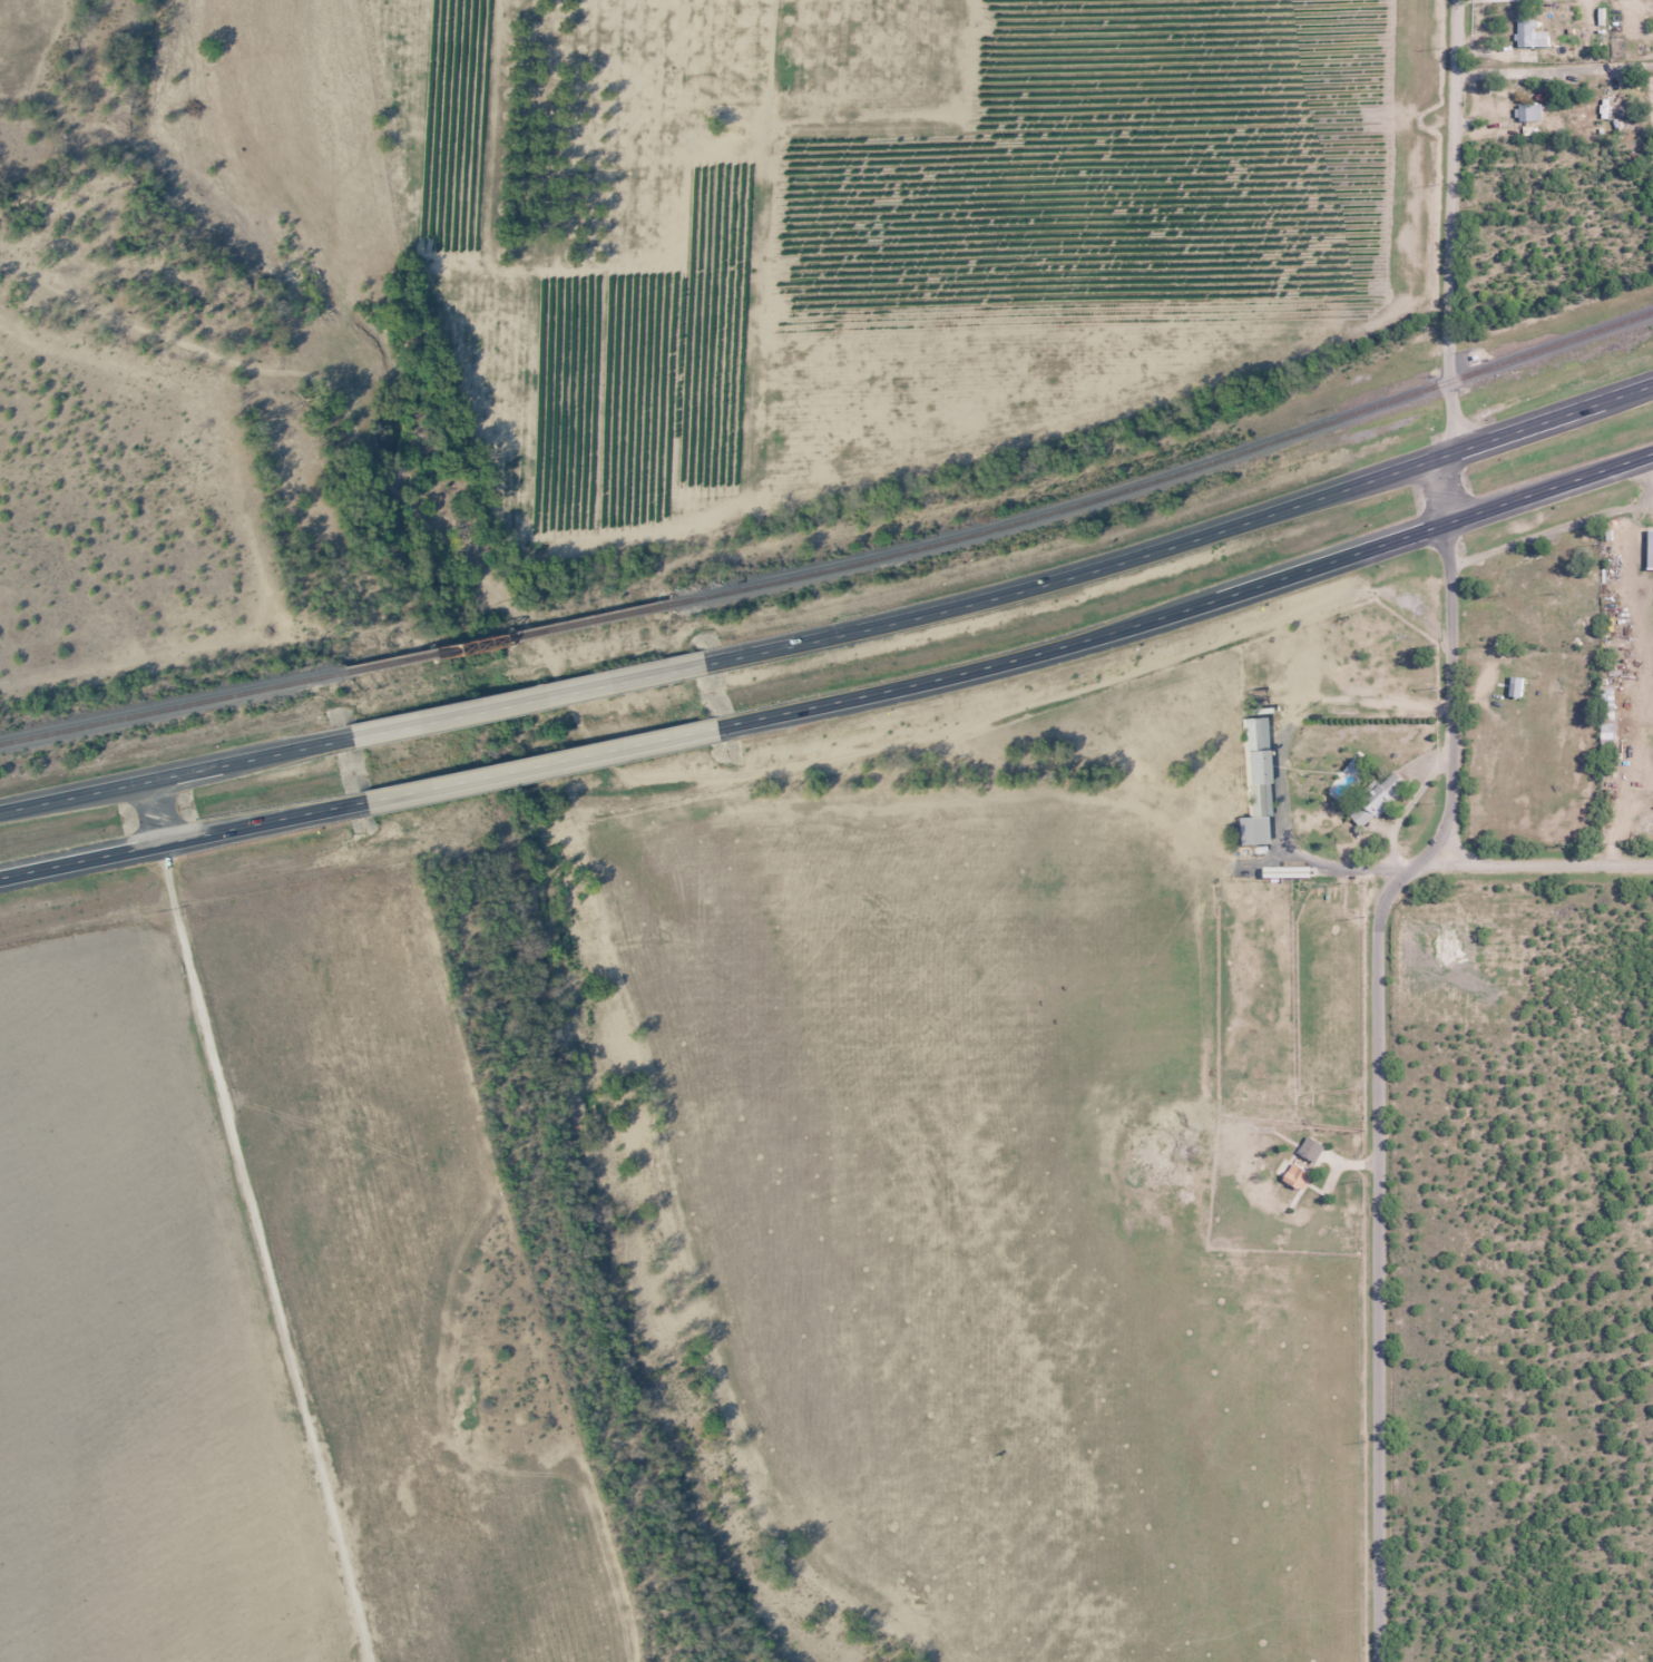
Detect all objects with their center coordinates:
building: (1525, 32)
building: (1528, 111)
road: (1453, 184)
road: (1455, 408)
road: (1448, 452)
railway: (1166, 473)
road: (1447, 487)
road: (1447, 521)
building: (1649, 549)
building: (1591, 561)
road: (972, 603)
railway: (502, 639)
road: (978, 668)
building: (1514, 686)
road: (528, 697)
railway: (167, 710)
building: (1605, 710)
road: (529, 766)
road: (180, 772)
building: (1252, 783)
building: (1376, 799)
road: (155, 812)
road: (174, 841)
road: (1451, 863)
road: (1544, 863)
road: (1380, 1079)
building: (1298, 1171)
road: (271, 1252)

